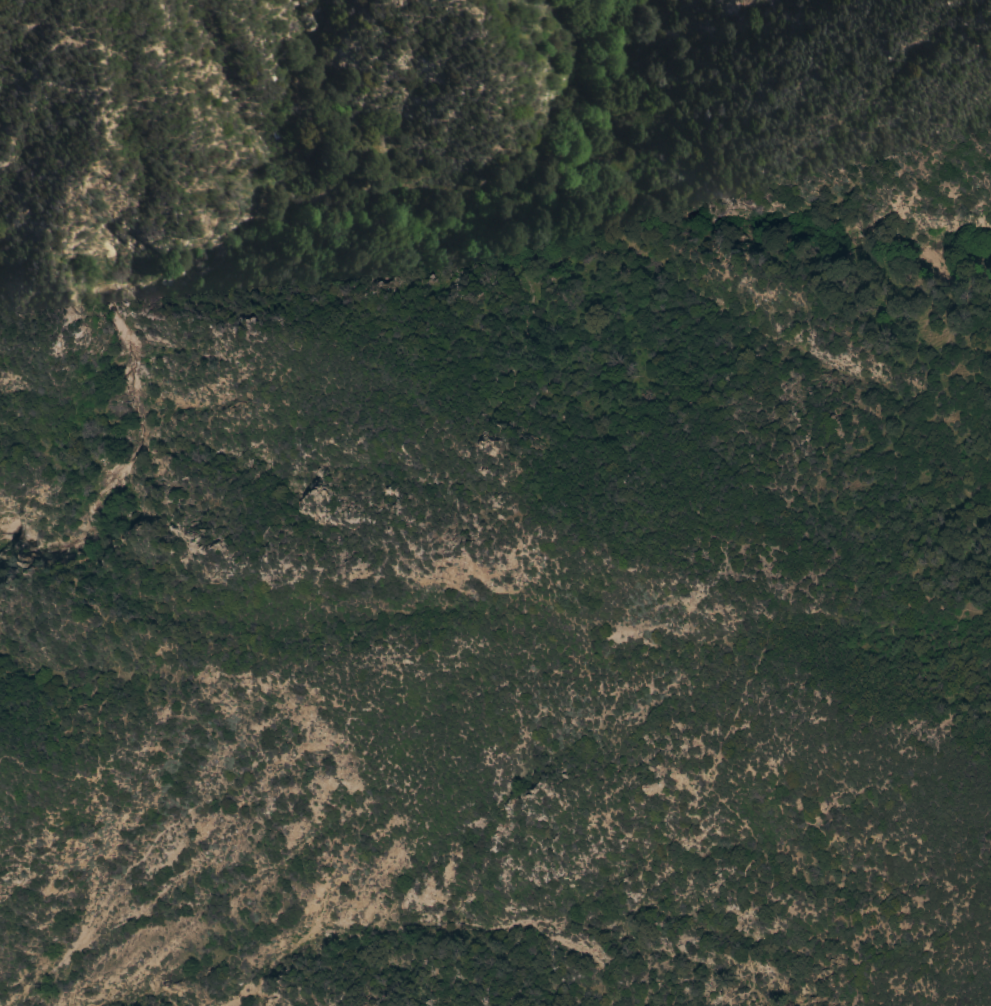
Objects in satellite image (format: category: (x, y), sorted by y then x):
road: (734, 710)
road: (17, 750)

